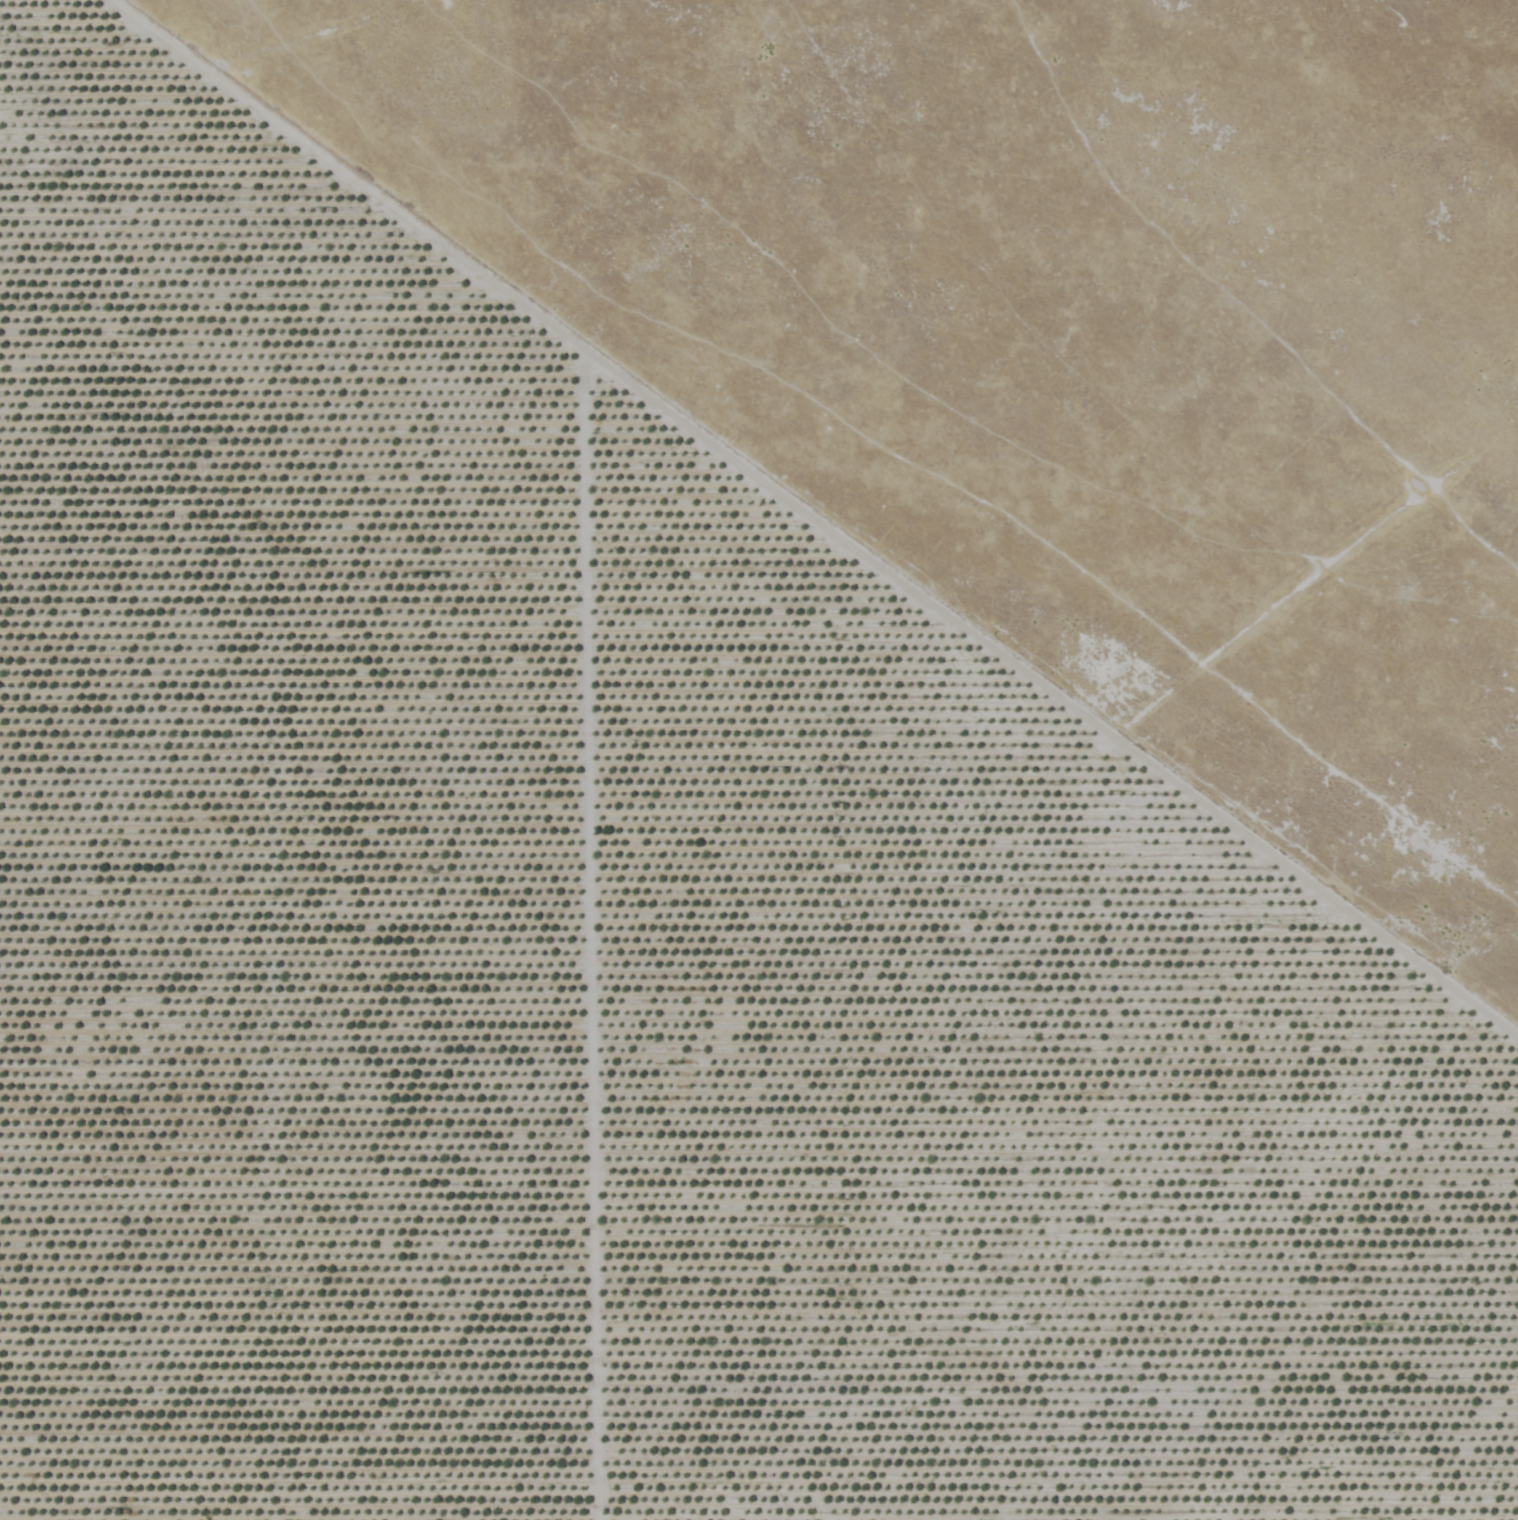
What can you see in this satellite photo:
crop: (625, 948)

